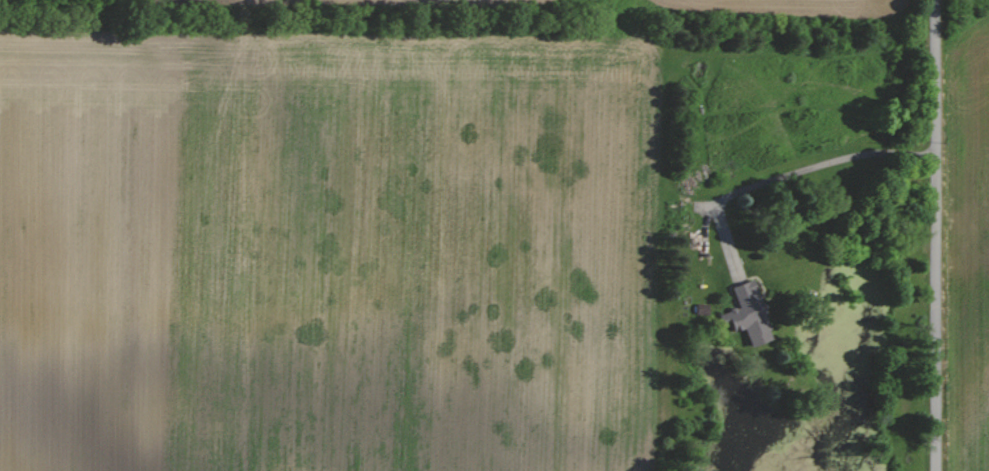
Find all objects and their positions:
road: (803, 169)
road: (937, 235)
building: (744, 314)

